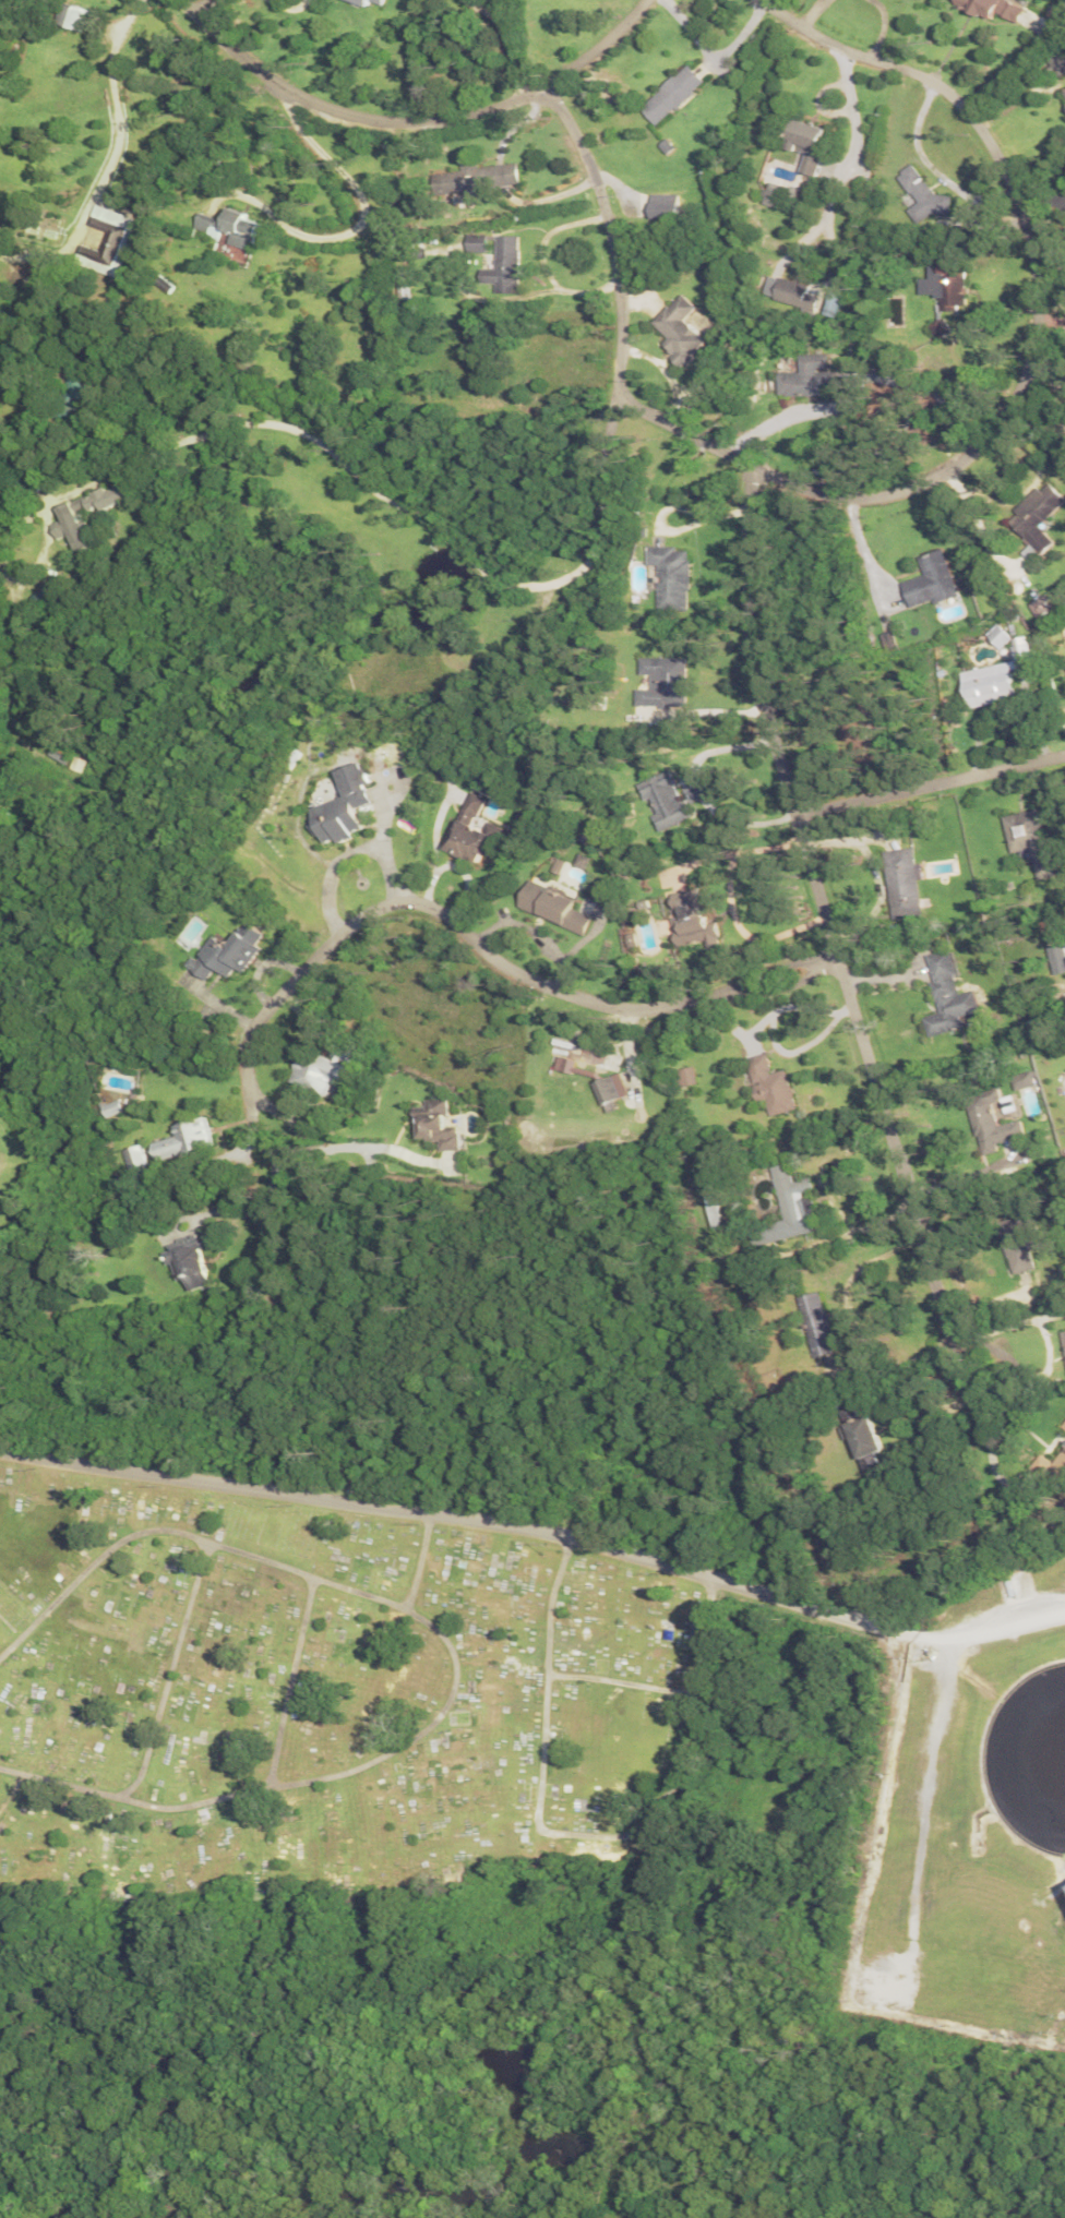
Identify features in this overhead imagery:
road: (290, 4)
road: (207, 8)
road: (415, 120)
road: (613, 249)
park: (10, 314)
road: (1033, 356)
road: (313, 434)
road: (931, 780)
road: (822, 892)
road: (790, 982)
road: (286, 990)
road: (596, 1002)
road: (306, 1130)
park: (25, 1161)
road: (1018, 1391)
road: (535, 1524)
road: (454, 1651)
road: (171, 1671)
road: (291, 1680)
park: (327, 1702)

